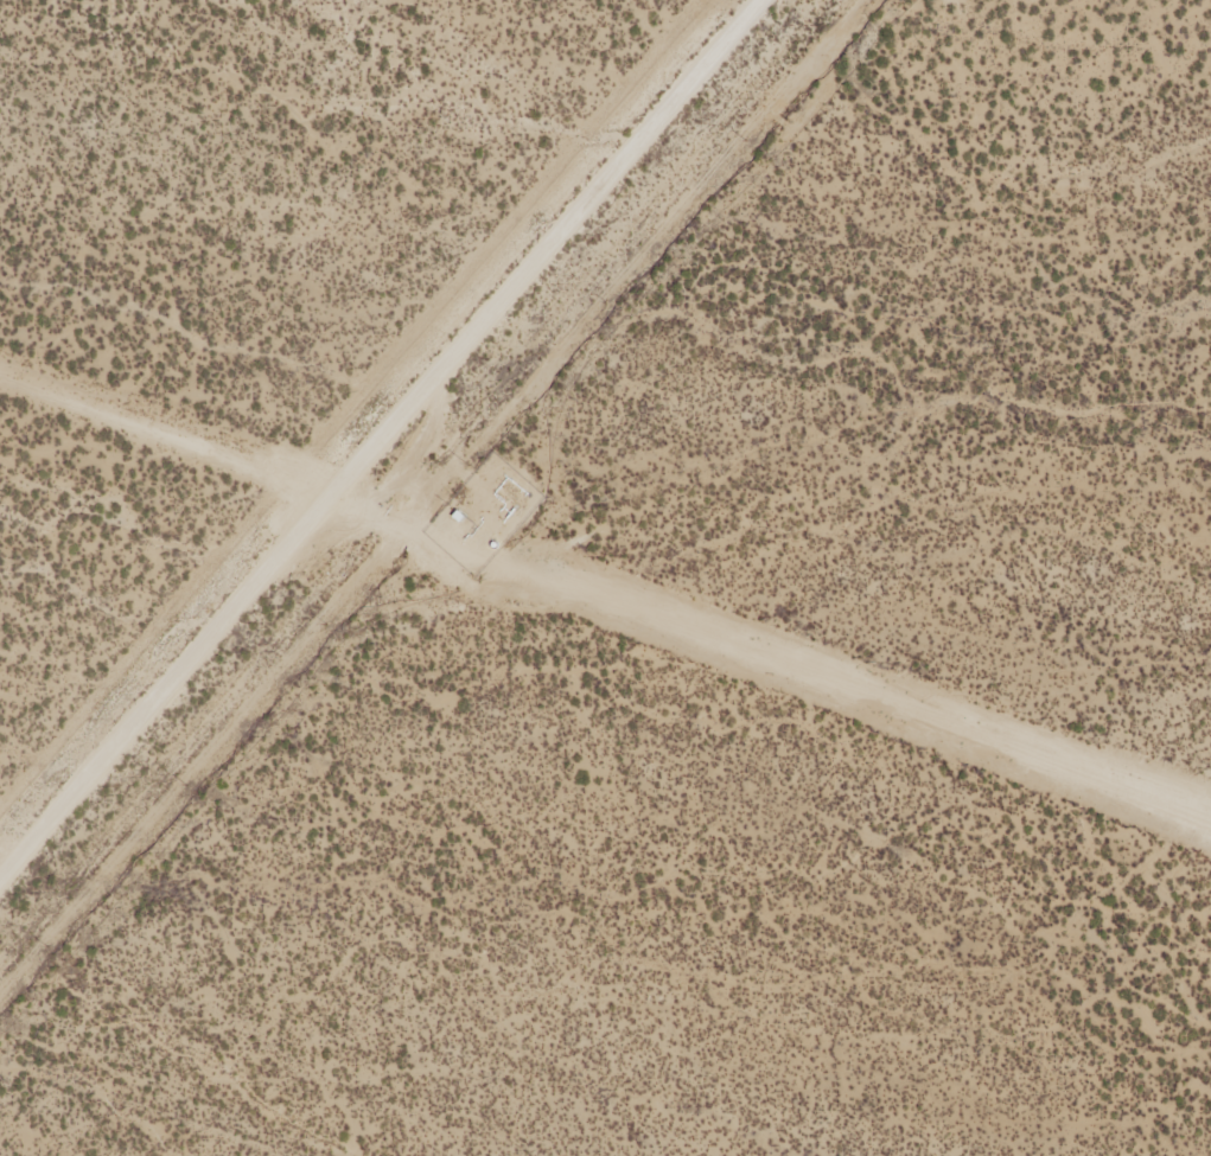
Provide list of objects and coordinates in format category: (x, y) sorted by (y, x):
road: (380, 438)
road: (205, 1088)

